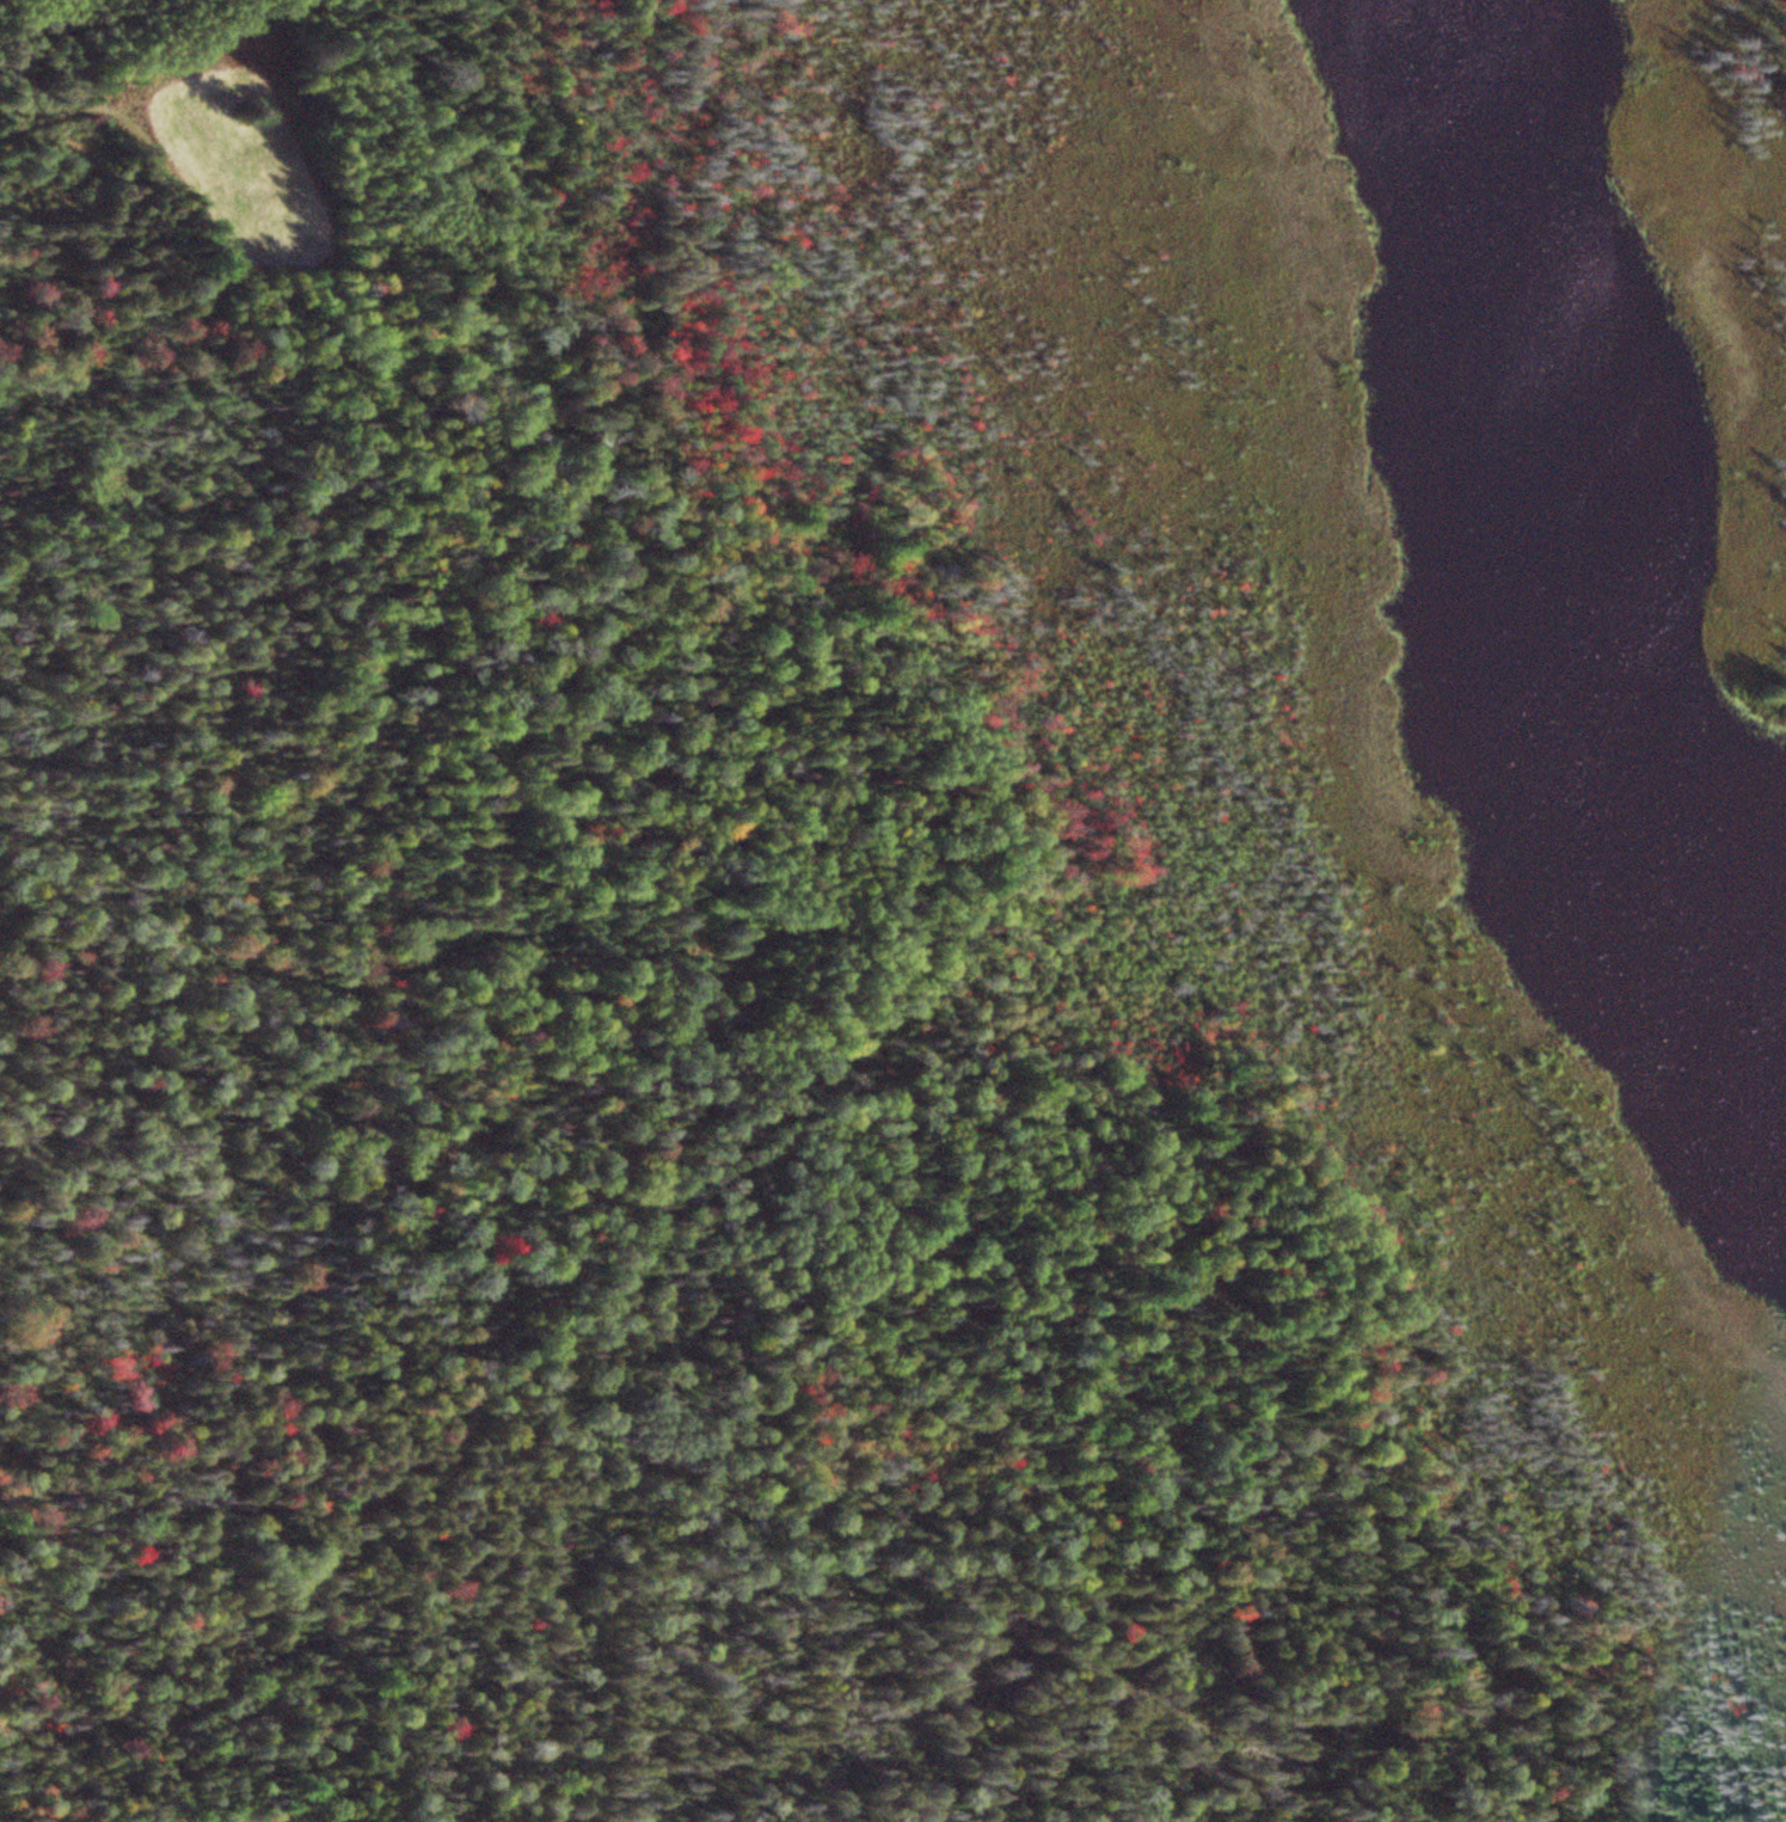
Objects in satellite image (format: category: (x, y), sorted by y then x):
road: (375, 952)
road: (1400, 1583)

